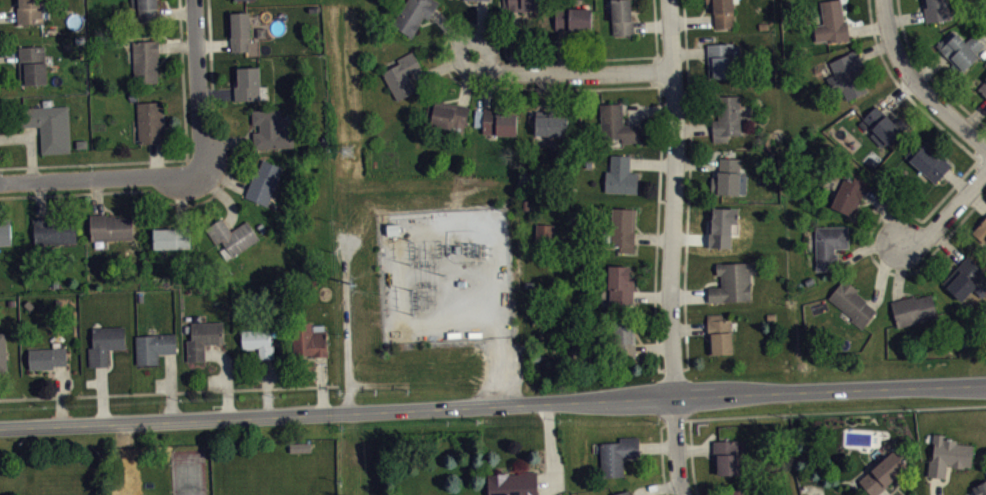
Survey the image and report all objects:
building: (247, 2)
building: (471, 2)
building: (521, 4)
building: (146, 9)
building: (935, 9)
building: (31, 10)
building: (723, 12)
building: (414, 14)
building: (622, 16)
building: (575, 18)
building: (831, 21)
building: (240, 29)
building: (960, 48)
building: (722, 57)
building: (145, 59)
building: (34, 63)
road: (521, 71)
building: (401, 73)
building: (847, 73)
building: (247, 82)
road: (916, 84)
road: (198, 86)
building: (983, 86)
building: (983, 93)
building: (448, 115)
road: (975, 115)
building: (727, 116)
building: (496, 119)
building: (150, 120)
road: (980, 121)
building: (617, 122)
building: (551, 123)
building: (48, 125)
building: (879, 125)
building: (270, 128)
road: (979, 146)
power tower: (343, 154)
building: (928, 159)
building: (621, 174)
building: (726, 175)
road: (96, 178)
building: (264, 181)
building: (849, 192)
road: (982, 196)
road: (671, 197)
road: (977, 199)
road: (948, 213)
building: (110, 225)
building: (53, 228)
building: (622, 228)
building: (980, 229)
building: (5, 230)
building: (232, 234)
building: (171, 236)
building: (547, 238)
building: (829, 244)
power substation: (447, 276)
building: (966, 278)
building: (732, 279)
building: (620, 283)
power tower: (350, 287)
building: (851, 301)
building: (913, 308)
building: (719, 332)
building: (624, 336)
building: (204, 337)
building: (308, 337)
building: (259, 340)
building: (105, 342)
building: (153, 345)
building: (3, 350)
building: (46, 356)
road: (500, 371)
road: (169, 392)
road: (493, 404)
road: (835, 411)
road: (676, 445)
building: (300, 447)
road: (661, 448)
road: (551, 449)
building: (303, 453)
building: (617, 454)
building: (948, 454)
building: (726, 455)
road: (690, 457)
building: (883, 471)
park: (189, 478)
building: (513, 482)
building: (980, 487)
building: (738, 491)
building: (621, 492)

